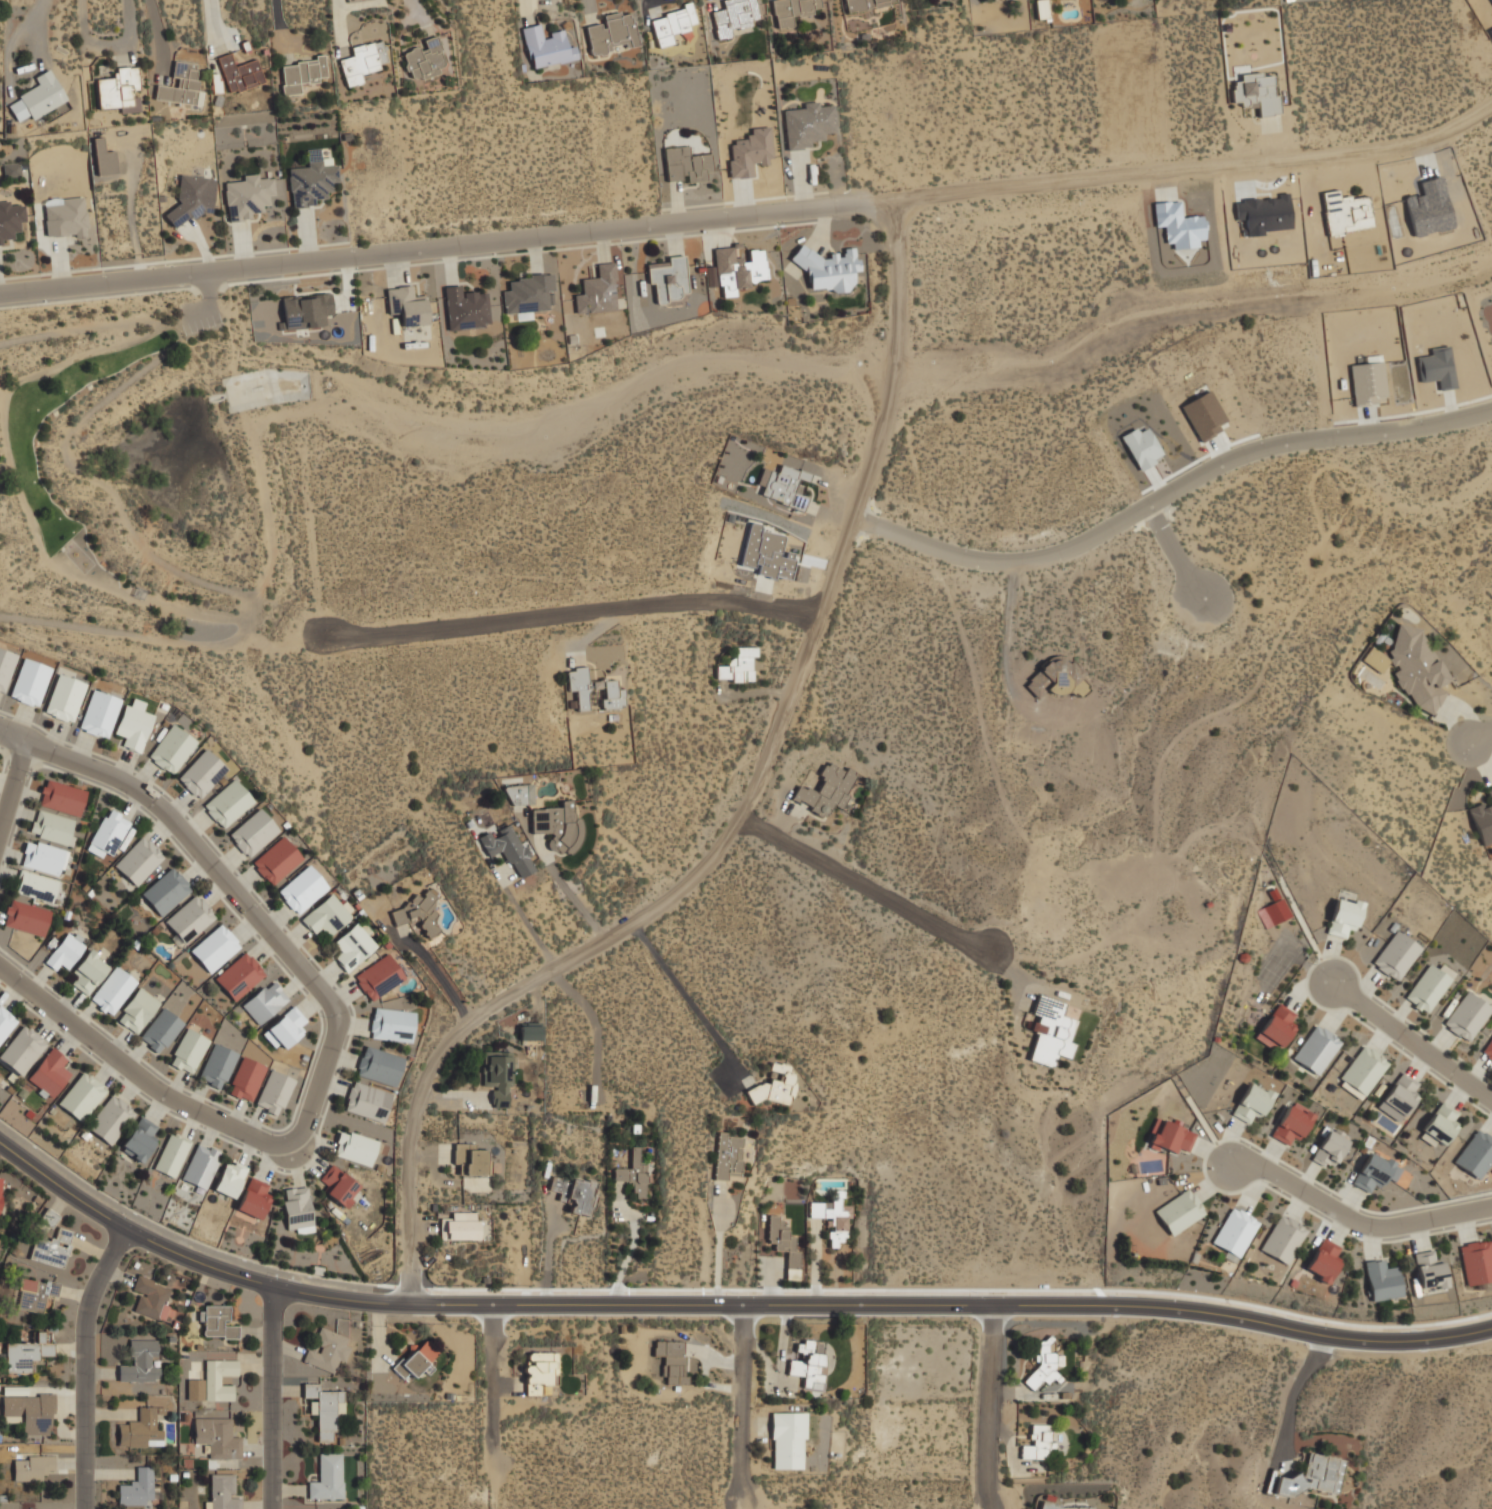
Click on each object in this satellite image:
building: (1491, 0)
building: (864, 4)
building: (1042, 8)
building: (791, 10)
building: (734, 16)
building: (671, 24)
building: (1491, 30)
building: (612, 32)
building: (546, 46)
building: (425, 58)
building: (363, 60)
building: (239, 72)
building: (302, 72)
building: (180, 85)
building: (120, 88)
building: (1256, 92)
building: (37, 96)
building: (807, 122)
building: (750, 152)
building: (317, 156)
building: (103, 157)
building: (685, 164)
building: (11, 168)
building: (312, 180)
building: (248, 195)
building: (194, 196)
building: (1429, 206)
building: (1346, 212)
road: (750, 214)
building: (65, 216)
building: (10, 219)
building: (1178, 225)
building: (828, 268)
building: (738, 269)
building: (668, 279)
building: (597, 290)
building: (528, 294)
building: (406, 305)
building: (465, 308)
building: (305, 309)
road: (891, 360)
building: (1438, 367)
building: (1367, 382)
building: (1204, 415)
building: (1142, 447)
building: (782, 485)
road: (1168, 495)
building: (764, 552)
road: (1176, 553)
road: (566, 616)
building: (5, 666)
building: (738, 666)
building: (1412, 666)
building: (1056, 678)
building: (29, 681)
building: (594, 687)
building: (64, 697)
building: (99, 713)
building: (133, 723)
road: (12, 738)
road: (1482, 738)
building: (171, 748)
building: (200, 773)
building: (825, 789)
building: (520, 794)
building: (61, 796)
building: (227, 802)
building: (1483, 818)
building: (51, 826)
building: (558, 826)
building: (107, 832)
building: (252, 832)
building: (508, 849)
building: (42, 856)
building: (139, 859)
building: (275, 860)
road: (867, 881)
building: (35, 885)
building: (301, 888)
building: (166, 890)
building: (1277, 910)
building: (418, 911)
building: (326, 915)
building: (1344, 916)
building: (25, 917)
building: (188, 918)
road: (627, 931)
building: (352, 946)
building: (214, 947)
building: (64, 951)
building: (1395, 956)
building: (87, 972)
building: (239, 975)
building: (378, 976)
building: (1429, 986)
building: (112, 990)
road: (686, 995)
building: (265, 1001)
road: (330, 1002)
building: (137, 1010)
building: (1467, 1015)
building: (5, 1022)
building: (391, 1024)
building: (1277, 1027)
building: (160, 1030)
building: (283, 1030)
building: (1050, 1030)
building: (530, 1031)
road: (1413, 1041)
building: (22, 1049)
building: (1316, 1049)
building: (187, 1050)
building: (1487, 1050)
building: (378, 1064)
building: (217, 1065)
building: (1364, 1069)
building: (49, 1073)
building: (497, 1076)
building: (245, 1078)
building: (775, 1086)
building: (274, 1092)
building: (81, 1095)
building: (1399, 1097)
building: (367, 1101)
building: (1251, 1102)
building: (110, 1118)
building: (1291, 1123)
building: (1439, 1125)
building: (1171, 1136)
building: (140, 1138)
building: (354, 1146)
building: (1331, 1147)
building: (1475, 1154)
building: (171, 1155)
building: (728, 1156)
building: (470, 1159)
building: (201, 1165)
building: (633, 1172)
building: (1380, 1172)
building: (229, 1178)
building: (339, 1185)
building: (0, 1190)
building: (573, 1192)
building: (254, 1197)
building: (299, 1209)
building: (1179, 1211)
building: (831, 1215)
building: (48, 1217)
road: (1355, 1221)
building: (460, 1226)
building: (1234, 1232)
building: (1283, 1238)
building: (784, 1245)
building: (51, 1248)
building: (1324, 1259)
building: (1476, 1261)
building: (1429, 1270)
building: (1382, 1280)
building: (33, 1293)
building: (151, 1296)
road: (728, 1305)
building: (216, 1321)
building: (326, 1348)
building: (25, 1353)
building: (415, 1359)
building: (671, 1359)
building: (140, 1360)
building: (809, 1363)
road: (89, 1365)
building: (1043, 1365)
building: (540, 1371)
building: (213, 1381)
road: (492, 1384)
road: (273, 1398)
road: (744, 1403)
road: (990, 1408)
building: (325, 1410)
building: (28, 1411)
building: (1473, 1424)
building: (140, 1428)
building: (216, 1437)
building: (788, 1440)
building: (1037, 1442)
building: (1474, 1463)
building: (32, 1466)
building: (327, 1477)
building: (1311, 1478)
building: (137, 1488)
building: (220, 1491)
building: (1476, 1498)
building: (1062, 1506)

